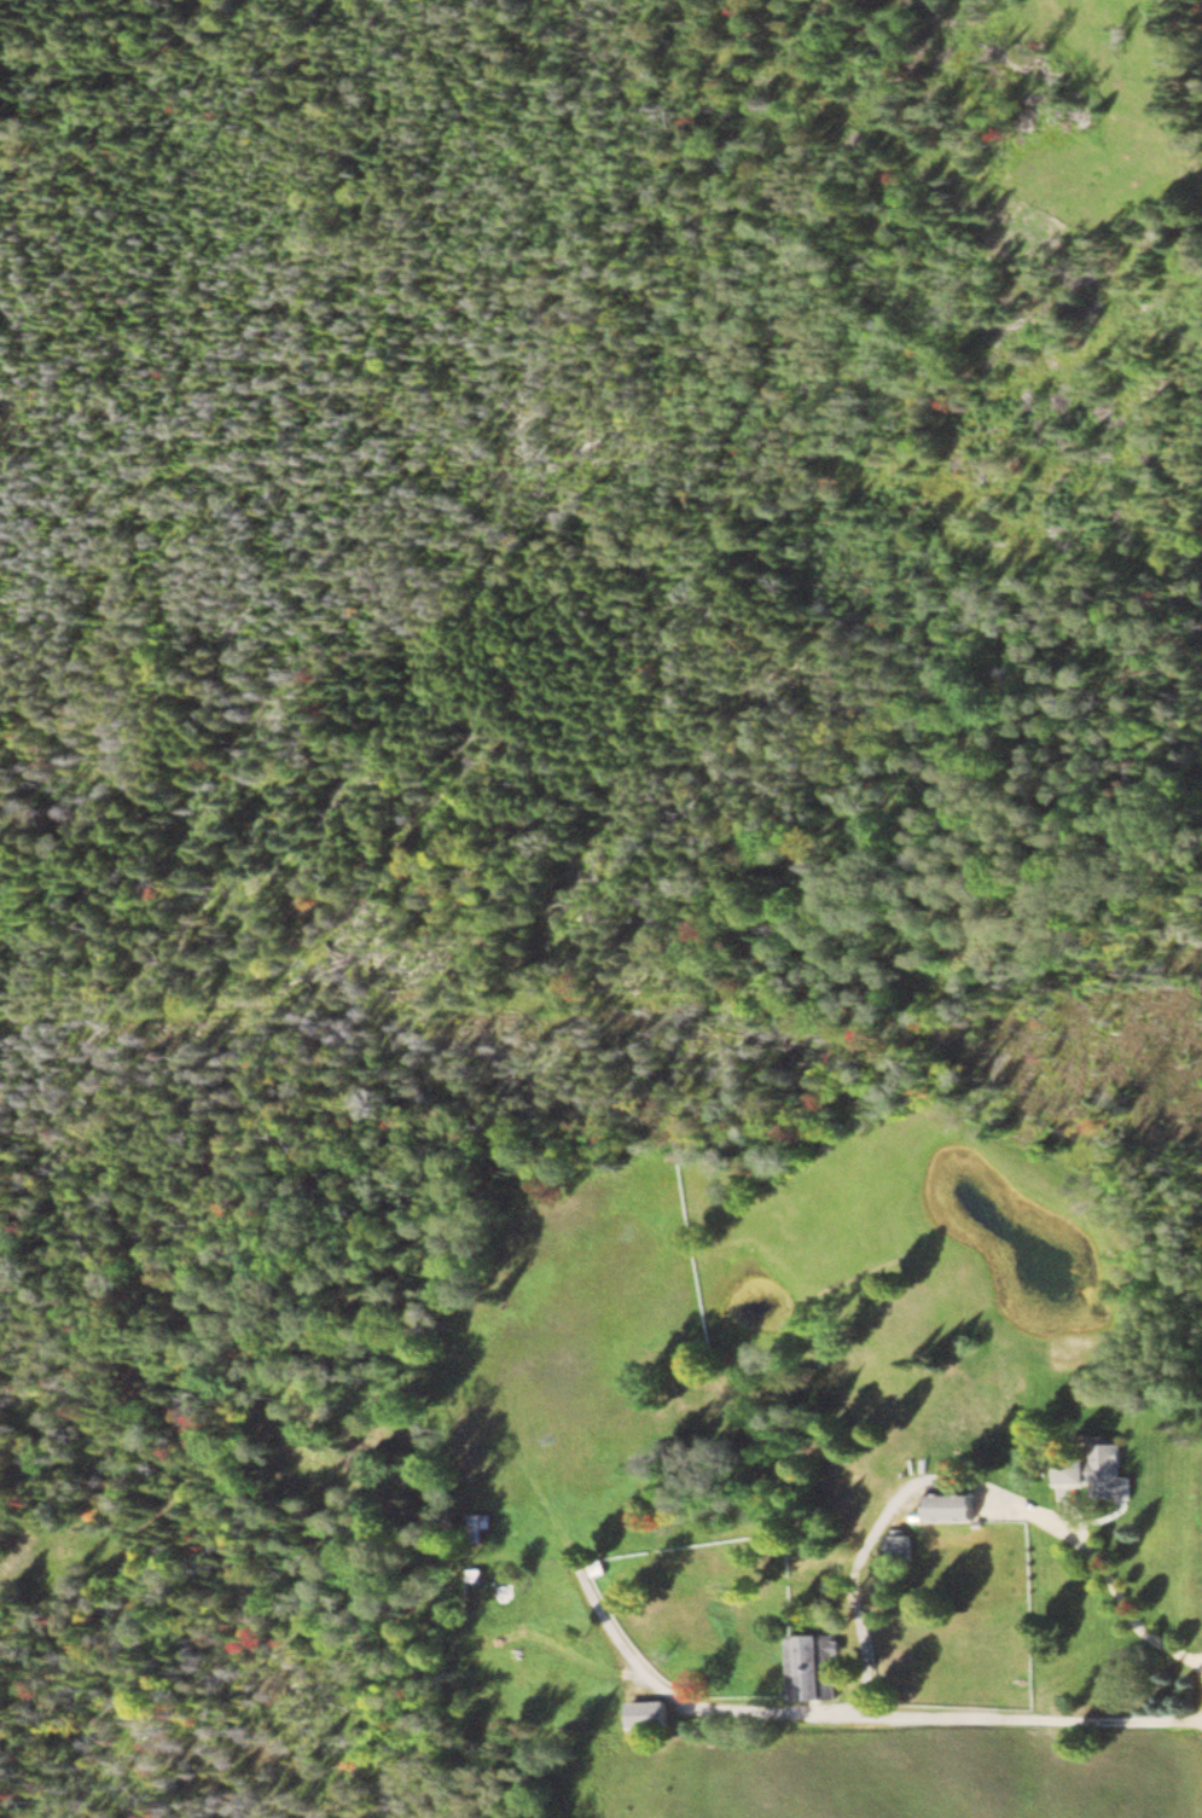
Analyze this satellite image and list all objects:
building: (1070, 1471)
building: (946, 1508)
building: (481, 1528)
building: (899, 1549)
building: (476, 1584)
building: (805, 1668)
building: (646, 1715)

